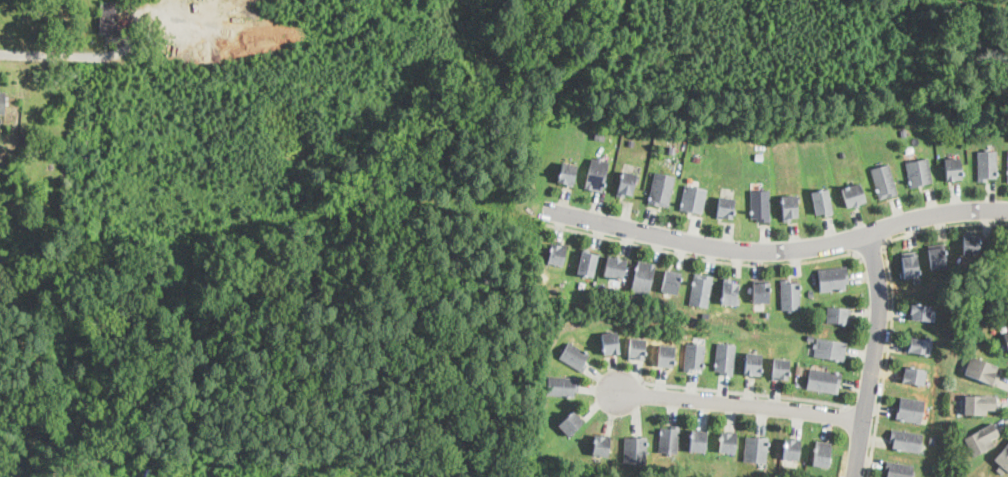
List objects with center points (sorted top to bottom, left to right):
building: (108, 18)
building: (124, 24)
road: (37, 55)
building: (2, 102)
building: (903, 132)
building: (599, 134)
building: (631, 141)
building: (672, 149)
building: (986, 165)
building: (950, 169)
building: (1007, 171)
building: (918, 172)
building: (569, 174)
building: (598, 174)
building: (883, 181)
building: (629, 184)
building: (660, 189)
building: (851, 195)
building: (691, 199)
building: (818, 202)
building: (759, 205)
building: (722, 207)
building: (786, 207)
building: (968, 244)
road: (776, 250)
road: (871, 250)
building: (557, 254)
road: (699, 256)
building: (934, 258)
building: (589, 264)
building: (907, 265)
building: (619, 268)
building: (646, 277)
building: (835, 279)
building: (918, 280)
building: (675, 282)
building: (704, 290)
building: (616, 291)
building: (811, 292)
building: (733, 293)
building: (765, 293)
building: (792, 295)
road: (891, 296)
building: (921, 311)
building: (706, 314)
building: (841, 316)
building: (811, 317)
building: (810, 336)
building: (1006, 338)
building: (613, 343)
building: (923, 347)
building: (640, 348)
building: (832, 348)
building: (670, 355)
road: (870, 355)
building: (574, 356)
building: (697, 356)
building: (728, 358)
building: (757, 364)
building: (784, 368)
building: (980, 368)
building: (799, 369)
building: (918, 376)
building: (827, 380)
building: (560, 386)
road: (738, 390)
road: (739, 403)
road: (864, 403)
building: (978, 403)
building: (912, 409)
building: (571, 423)
building: (981, 437)
building: (672, 439)
building: (909, 440)
building: (703, 441)
building: (733, 443)
building: (602, 445)
building: (637, 449)
building: (760, 449)
building: (797, 449)
building: (827, 455)
building: (1004, 458)
building: (901, 469)

